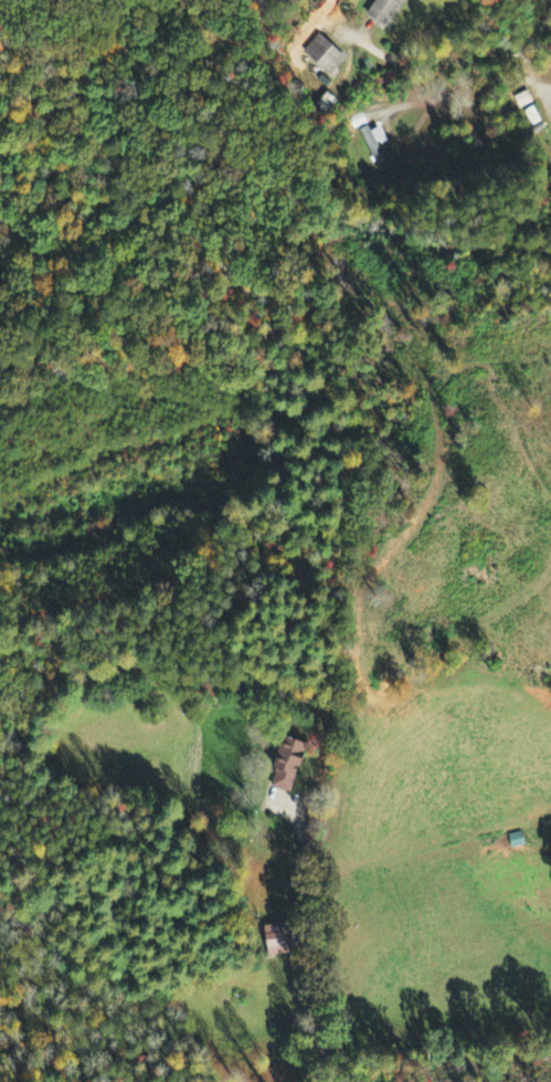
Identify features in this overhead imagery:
building: (388, 11)
building: (326, 55)
building: (292, 765)
building: (279, 939)

